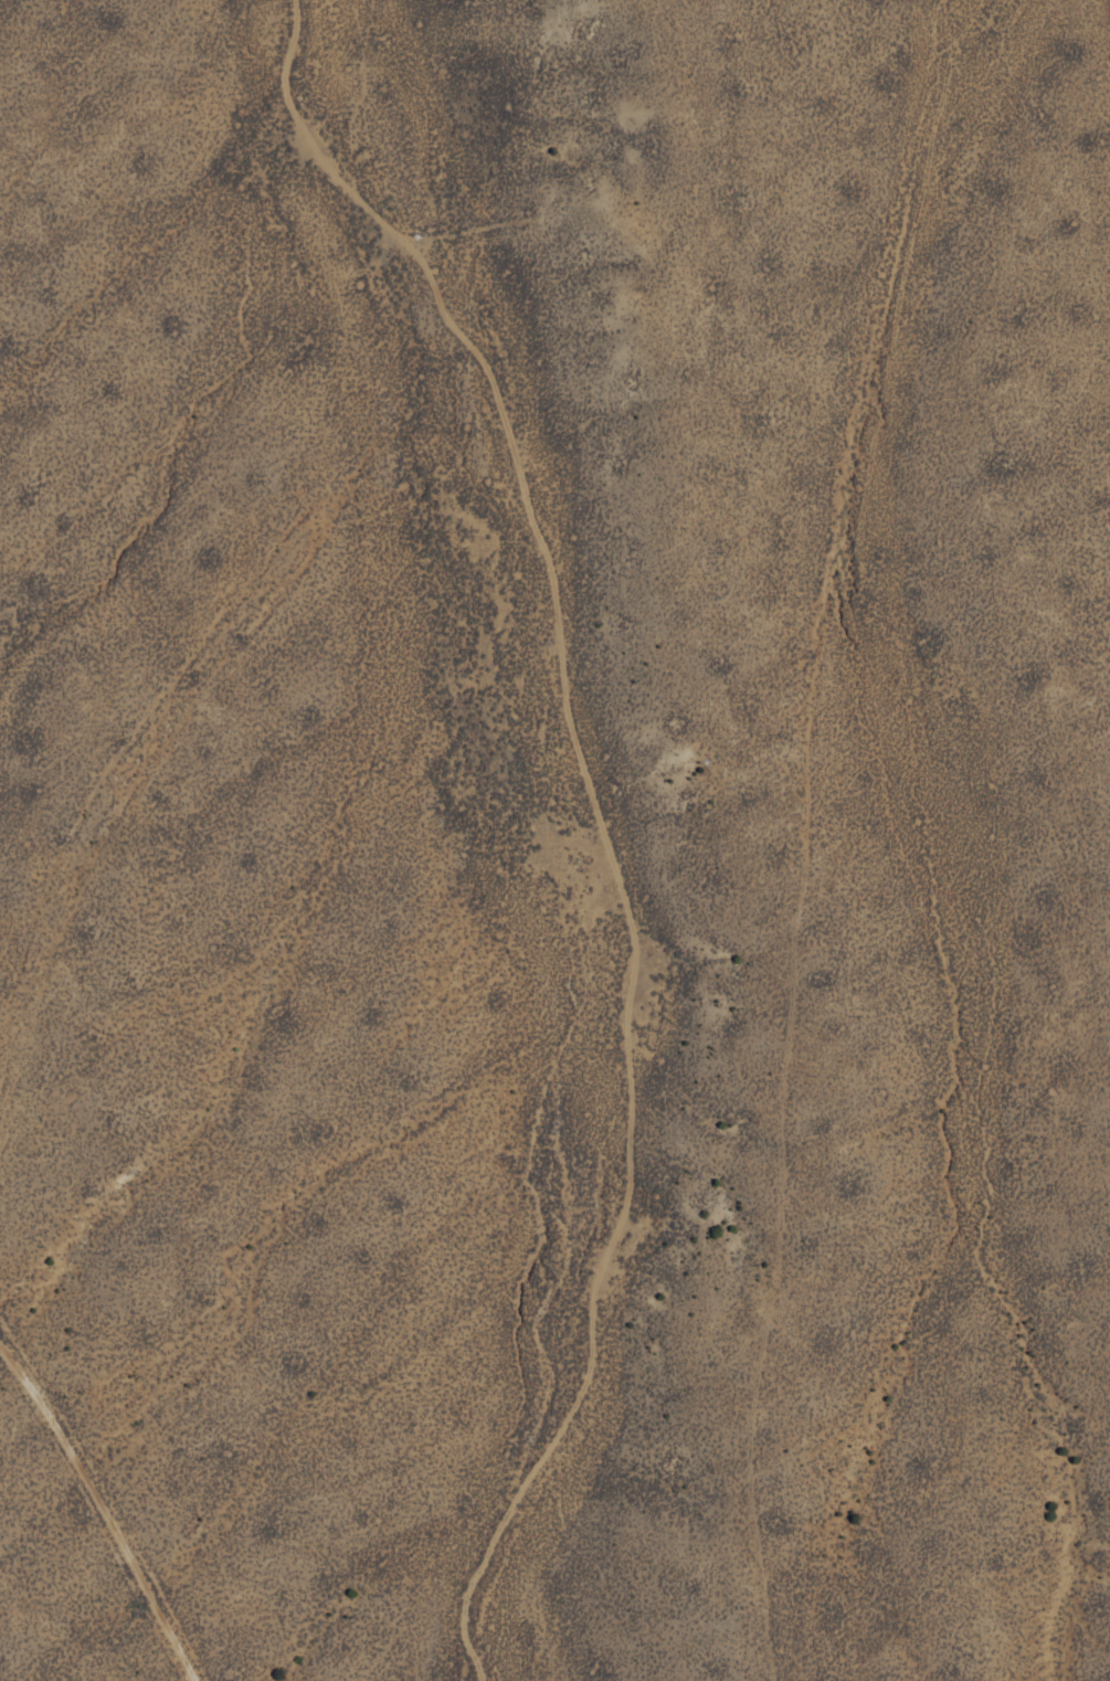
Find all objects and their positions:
road: (98, 1509)

